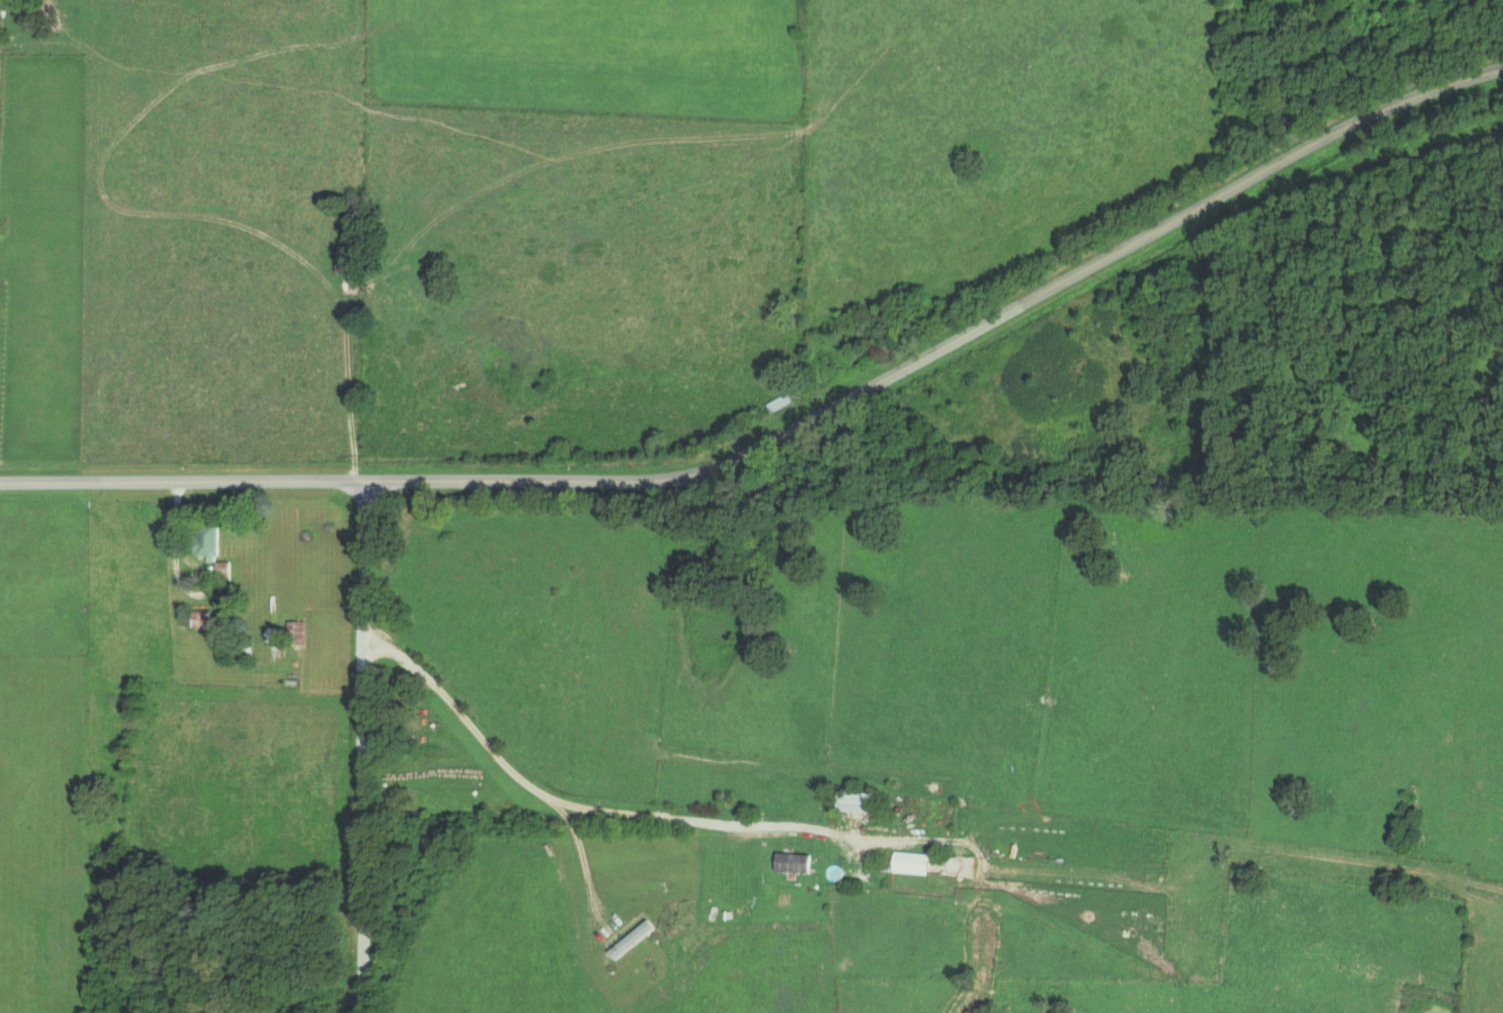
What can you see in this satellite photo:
building: (351, 259)
building: (781, 402)
road: (790, 429)
road: (175, 536)
building: (212, 541)
building: (227, 569)
building: (203, 619)
building: (290, 633)
road: (362, 747)
building: (861, 800)
road: (631, 814)
building: (796, 861)
building: (914, 862)
building: (635, 938)

